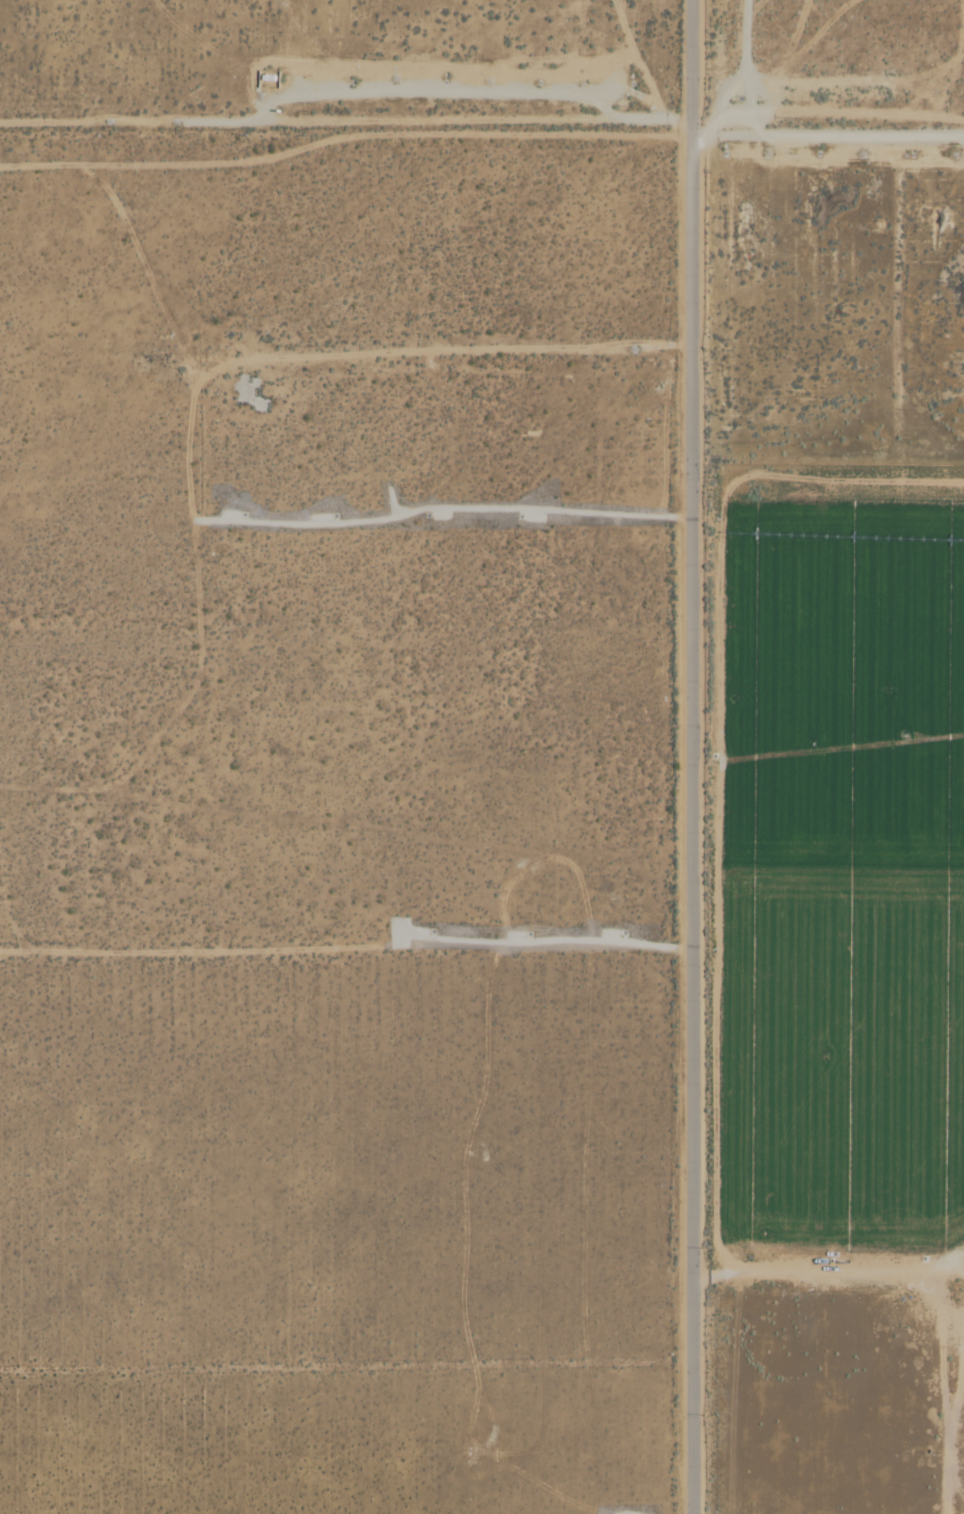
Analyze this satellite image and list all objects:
road: (826, 135)
road: (961, 137)
road: (961, 138)
crop: (844, 676)
road: (694, 757)

